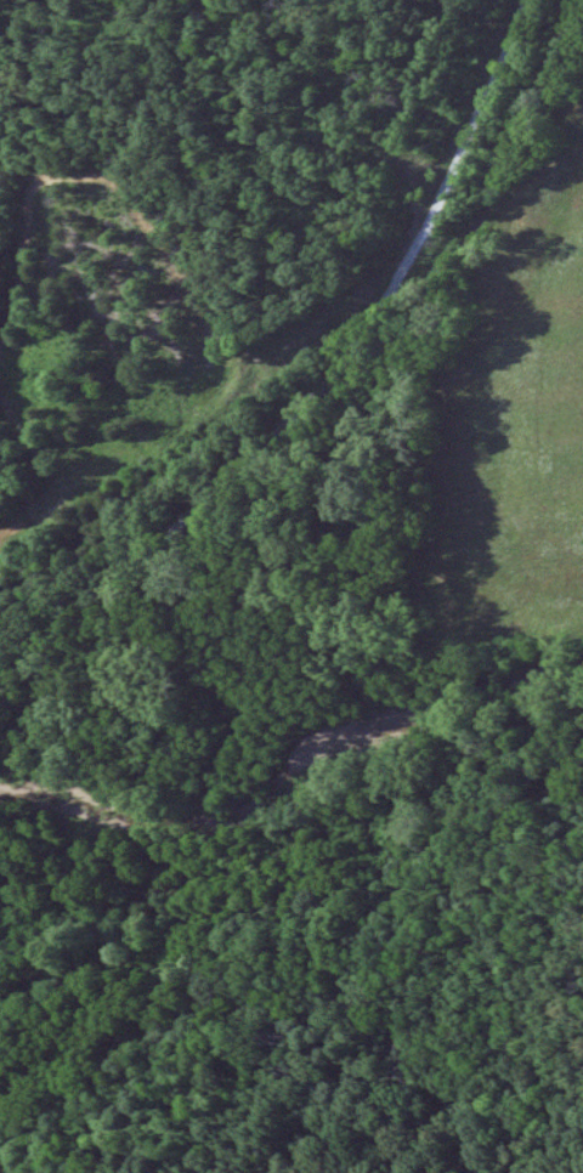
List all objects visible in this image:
road: (420, 232)
road: (147, 554)

